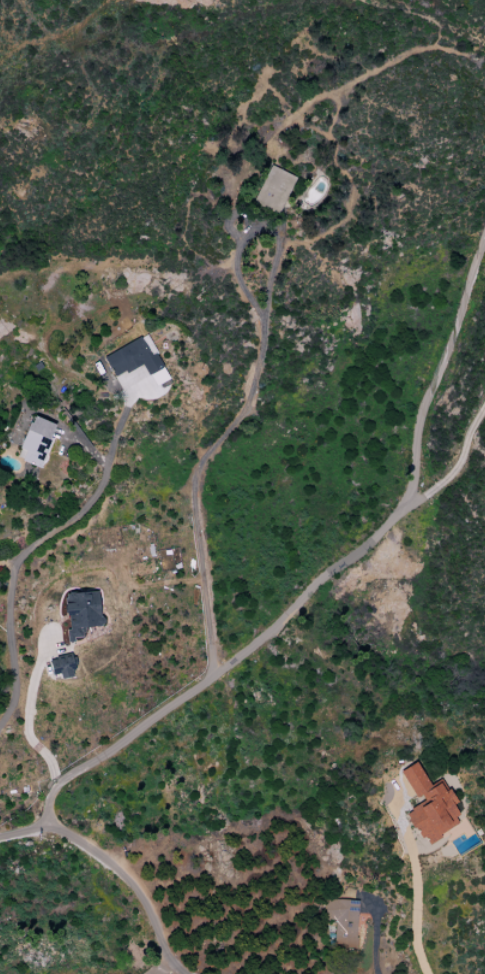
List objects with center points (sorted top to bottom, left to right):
building: (275, 190)
building: (135, 358)
road: (247, 405)
building: (37, 442)
road: (453, 470)
road: (46, 533)
road: (8, 562)
road: (325, 572)
building: (82, 612)
building: (63, 663)
road: (28, 718)
building: (429, 806)
road: (115, 862)
road: (416, 884)
building: (343, 923)
road: (376, 934)

